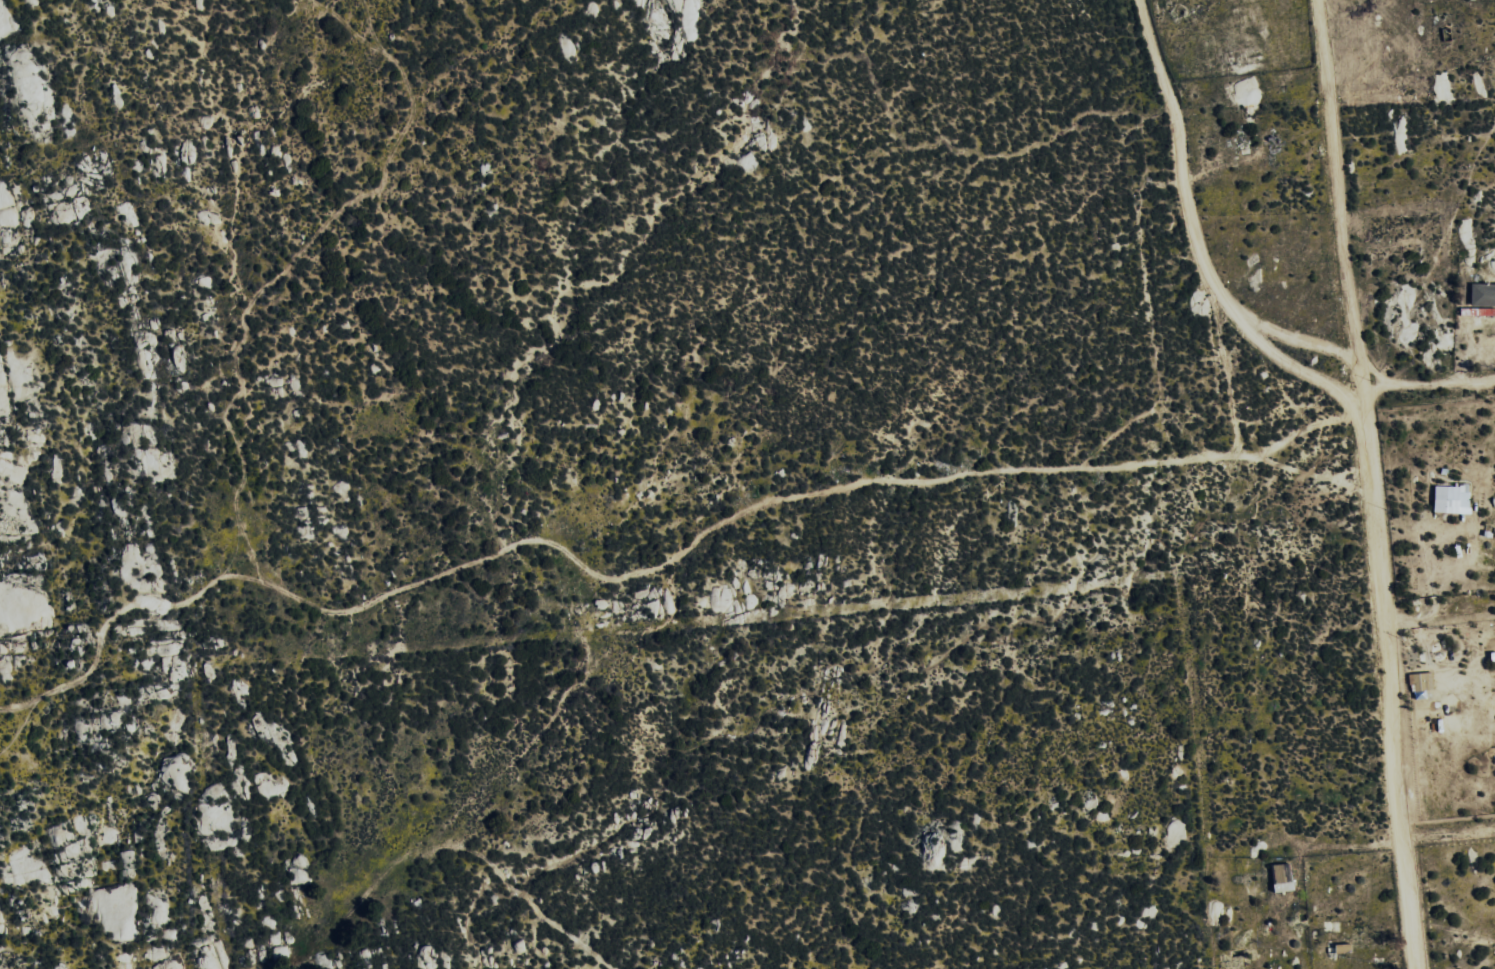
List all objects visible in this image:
road: (1365, 434)

